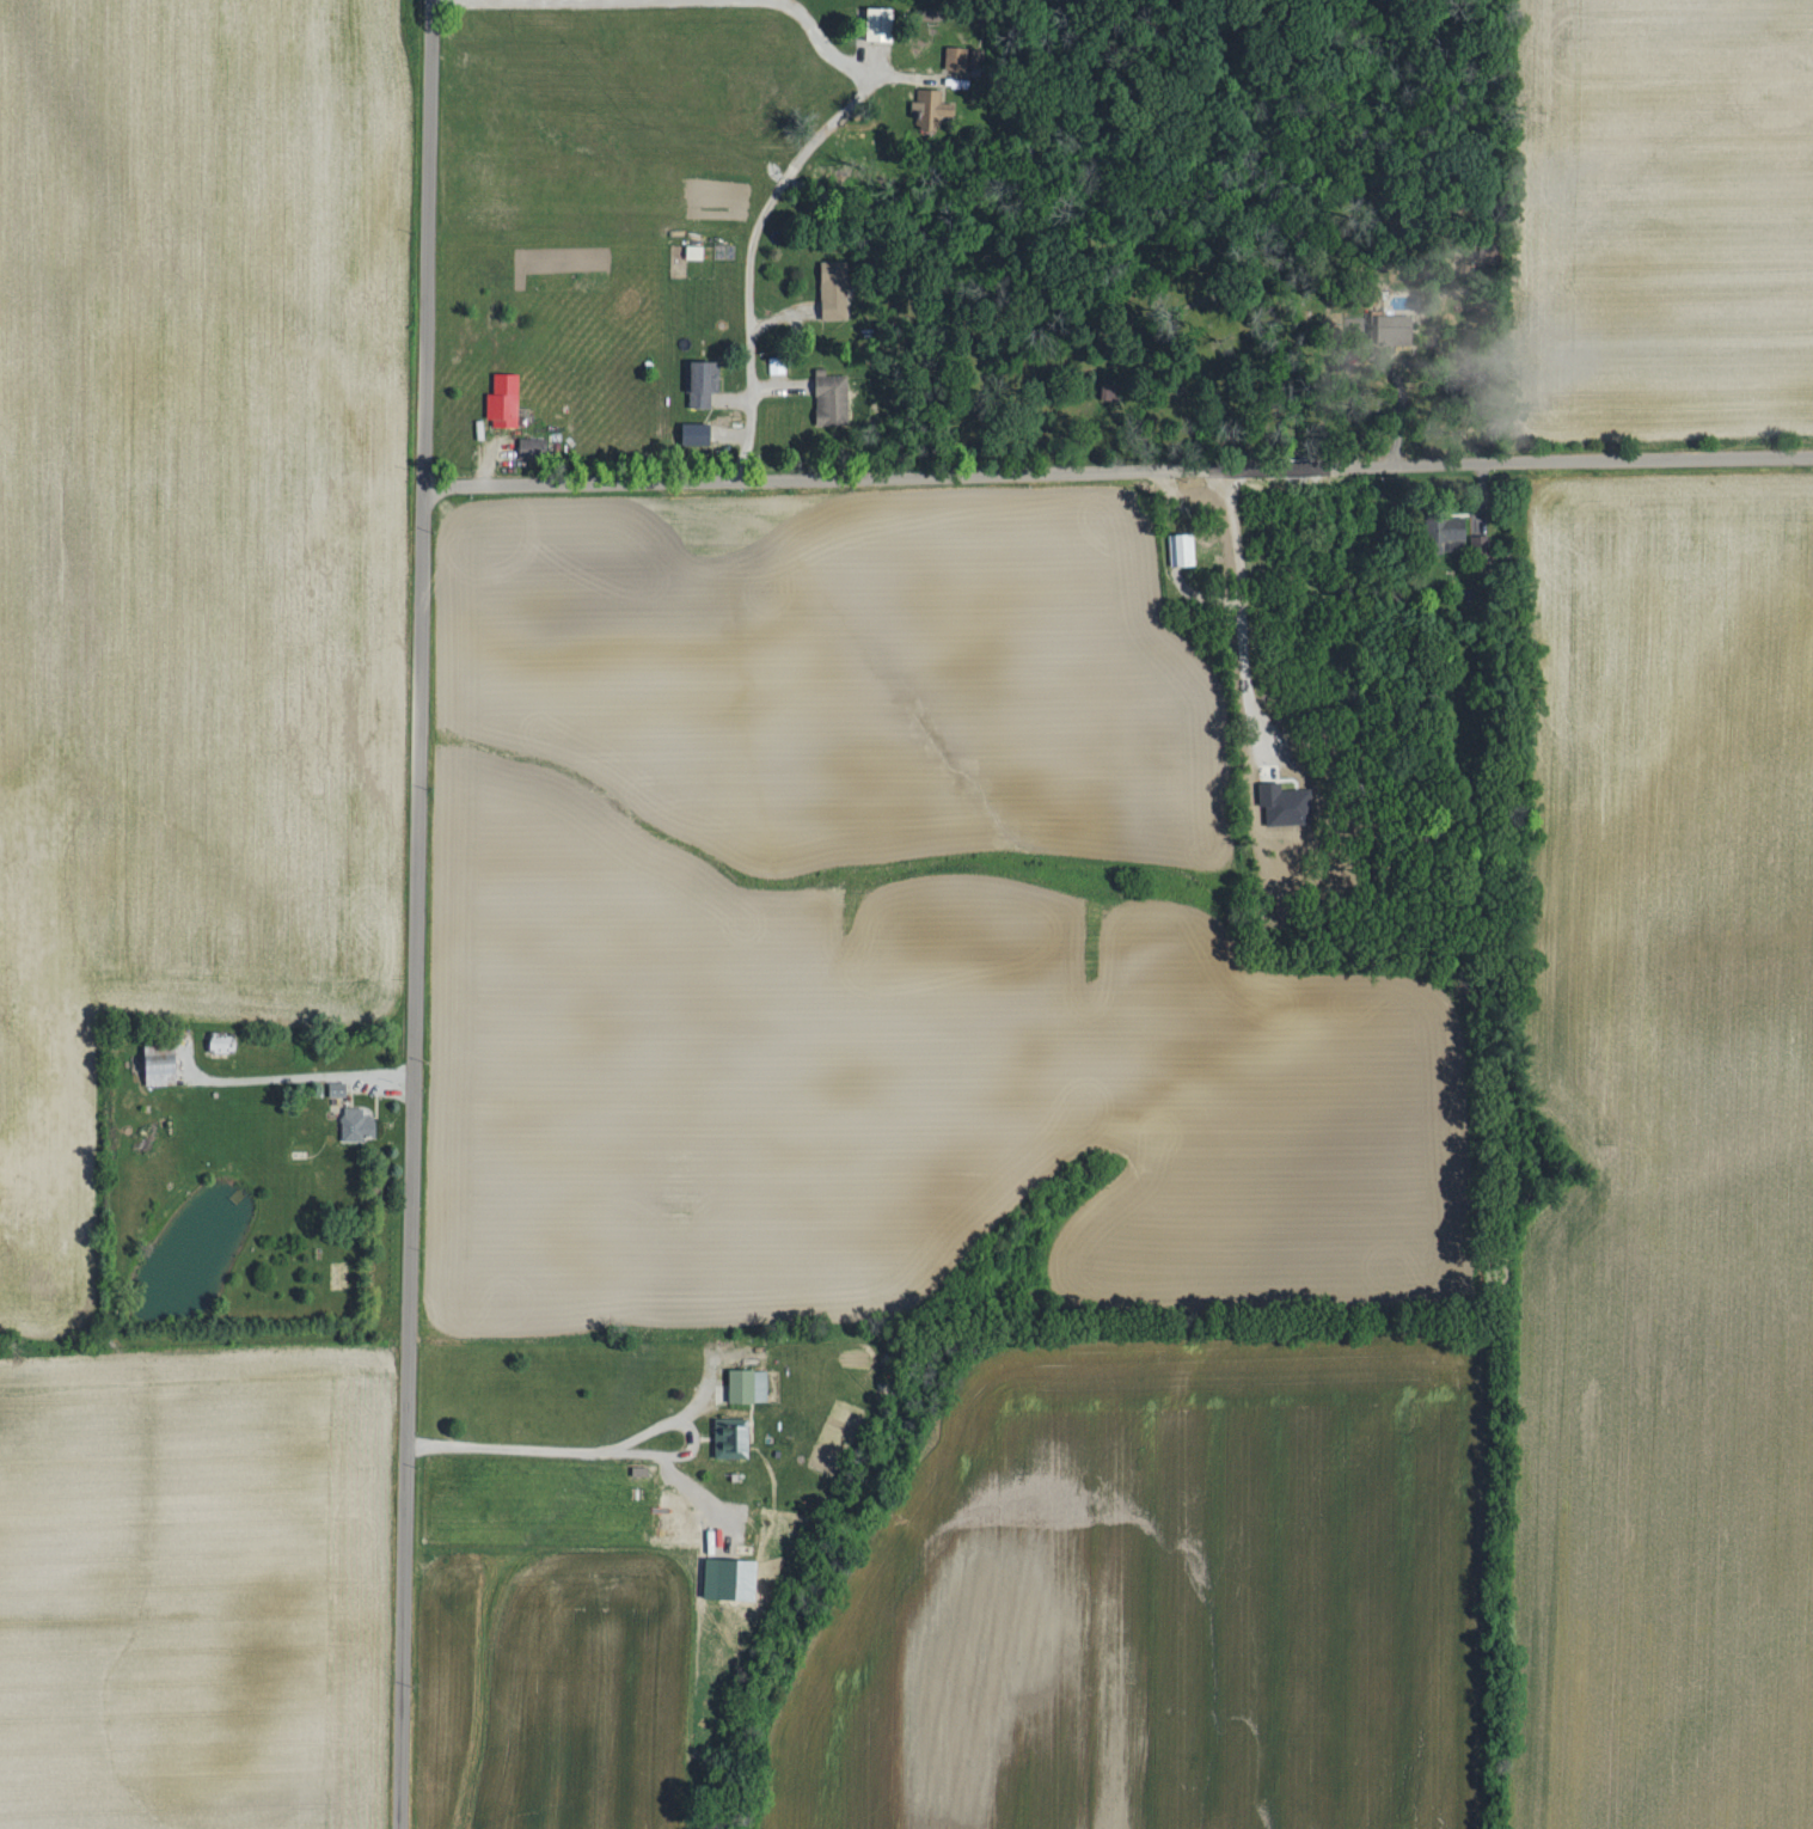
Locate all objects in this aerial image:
road: (668, 4)
building: (880, 24)
building: (956, 59)
building: (975, 59)
building: (932, 105)
road: (430, 239)
road: (758, 241)
building: (696, 251)
building: (834, 288)
building: (1397, 330)
building: (703, 381)
building: (834, 397)
road: (1399, 398)
building: (504, 399)
building: (697, 433)
building: (531, 447)
road: (1119, 470)
building: (1182, 549)
road: (1239, 564)
road: (1242, 667)
building: (161, 1071)
road: (306, 1072)
building: (359, 1125)
road: (417, 1154)
building: (749, 1385)
building: (731, 1439)
road: (550, 1446)
building: (730, 1578)

